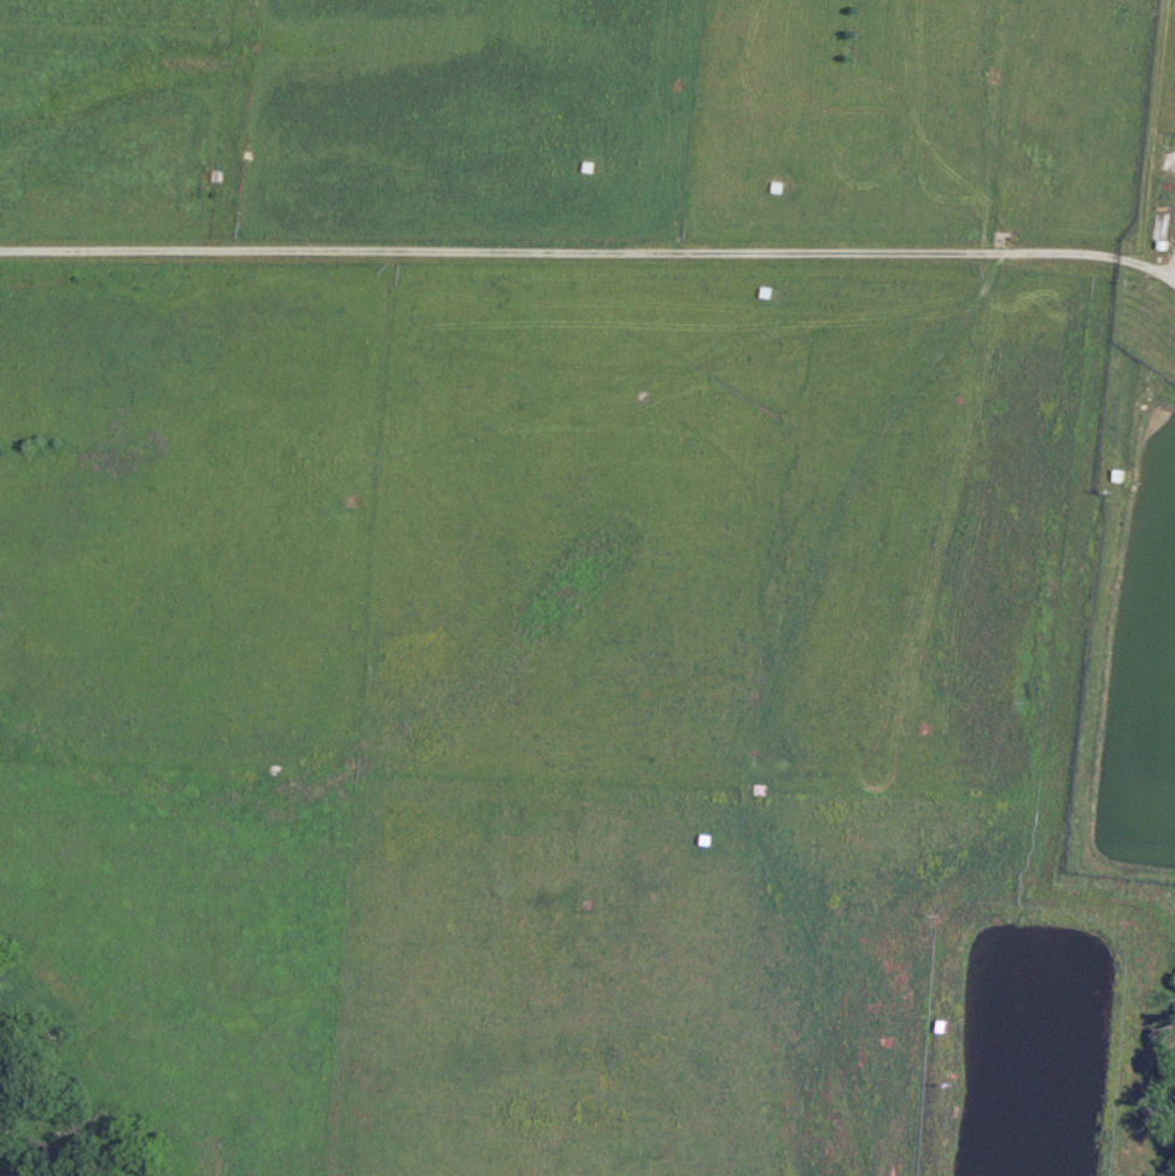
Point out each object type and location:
road: (561, 256)
road: (1151, 273)

